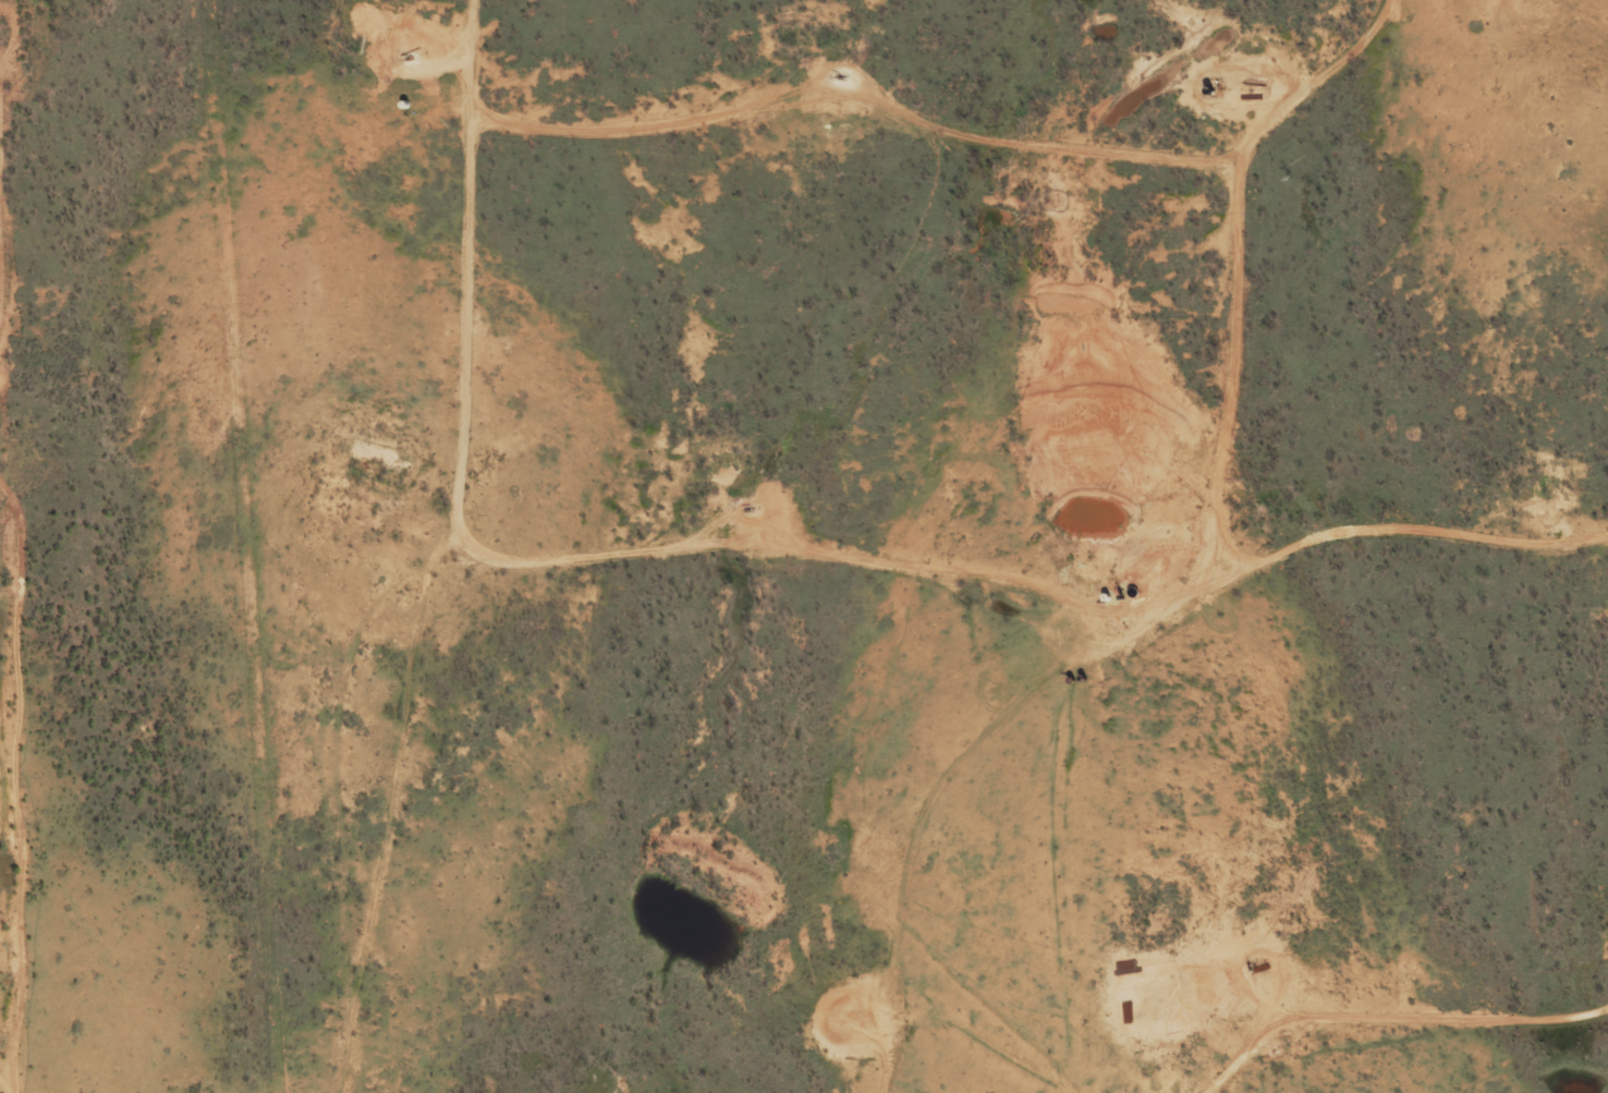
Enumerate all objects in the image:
road: (1263, 270)
road: (636, 614)
road: (2, 641)
road: (951, 861)
road: (1067, 863)
road: (1357, 1053)

